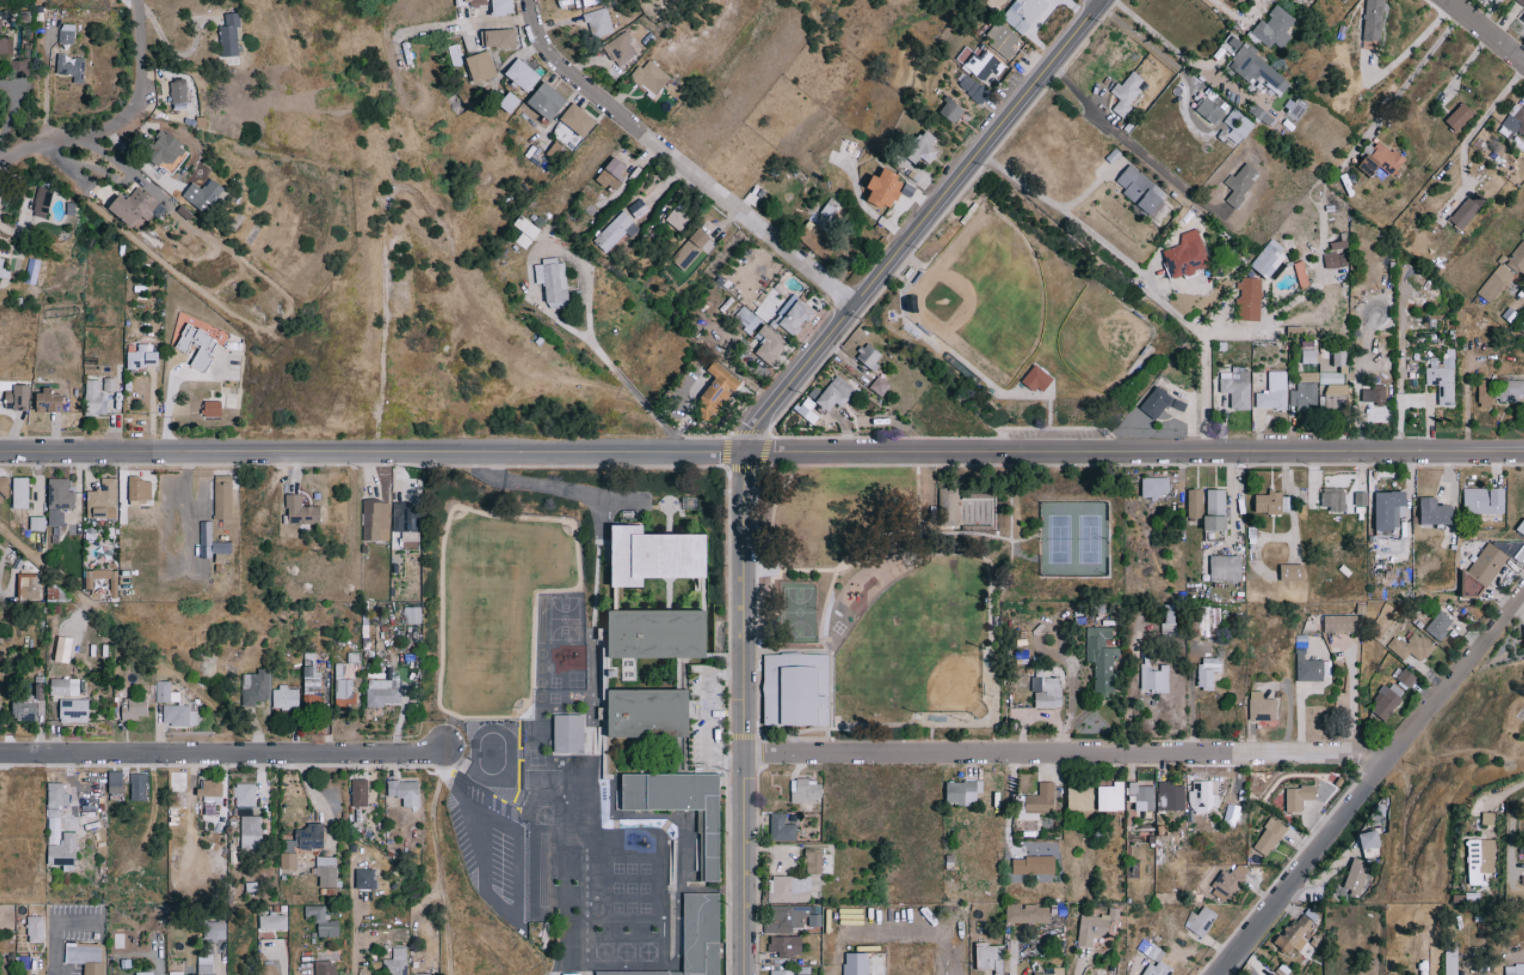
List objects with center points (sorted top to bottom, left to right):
building: (1346, 0)
building: (470, 2)
building: (592, 2)
road: (1102, 2)
building: (1520, 2)
building: (501, 7)
road: (1222, 7)
road: (134, 8)
building: (1024, 13)
building: (1523, 19)
building: (1373, 20)
building: (598, 22)
building: (1274, 27)
road: (1487, 30)
building: (72, 33)
building: (229, 35)
building: (497, 37)
building: (1002, 39)
building: (7, 41)
road: (1165, 43)
road: (1409, 45)
building: (621, 49)
road: (1155, 52)
building: (983, 64)
road: (1466, 64)
building: (480, 66)
building: (76, 67)
building: (1259, 71)
building: (523, 75)
building: (650, 77)
road: (1409, 79)
building: (972, 87)
building: (182, 91)
building: (1127, 91)
building: (547, 101)
building: (510, 102)
building: (1212, 108)
road: (16, 109)
building: (951, 111)
building: (1260, 114)
building: (1460, 116)
building: (578, 120)
road: (1480, 121)
building: (1512, 123)
road: (122, 126)
building: (1237, 126)
road: (1130, 145)
building: (923, 148)
building: (169, 149)
building: (555, 150)
building: (1382, 160)
road: (682, 163)
building: (613, 173)
building: (1241, 183)
building: (885, 189)
building: (1142, 190)
building: (204, 194)
road: (1047, 200)
building: (42, 201)
building: (136, 206)
building: (1469, 210)
building: (677, 219)
road: (930, 225)
building: (616, 231)
building: (819, 231)
building: (1340, 242)
building: (690, 249)
building: (1187, 255)
building: (1517, 258)
building: (1268, 259)
building: (1334, 260)
building: (3, 270)
building: (32, 270)
building: (1301, 275)
building: (553, 282)
building: (1495, 283)
park: (982, 296)
building: (1249, 299)
road: (549, 312)
building: (793, 315)
building: (744, 316)
building: (1521, 322)
building: (1295, 331)
road: (1235, 332)
park: (1104, 338)
building: (770, 344)
building: (198, 345)
road: (1206, 354)
building: (869, 356)
building: (1309, 356)
building: (143, 357)
building: (1339, 357)
building: (1308, 376)
building: (1443, 376)
building: (1331, 377)
building: (1037, 379)
building: (109, 384)
building: (6, 385)
building: (880, 386)
building: (1236, 386)
road: (1400, 386)
building: (682, 389)
building: (717, 390)
building: (1511, 390)
building: (1273, 392)
building: (1485, 393)
building: (835, 394)
building: (1374, 394)
building: (1334, 396)
building: (18, 397)
building: (1304, 397)
building: (94, 399)
building: (49, 401)
building: (1161, 403)
building: (213, 409)
building: (808, 411)
parking lot: (1059, 436)
road: (375, 452)
road: (1137, 452)
park: (963, 486)
building: (1155, 487)
building: (3, 489)
building: (139, 490)
building: (20, 492)
building: (222, 497)
building: (1334, 498)
building: (1361, 499)
building: (59, 500)
building: (102, 500)
building: (1484, 500)
building: (1273, 503)
building: (642, 504)
building: (1195, 504)
building: (947, 506)
building: (1388, 508)
building: (961, 510)
building: (1217, 510)
building: (301, 511)
building: (1436, 512)
building: (376, 520)
building: (407, 522)
building: (37, 523)
park: (1076, 538)
building: (205, 539)
building: (1388, 543)
building: (220, 547)
building: (654, 548)
building: (1494, 558)
building: (1225, 568)
building: (1290, 572)
building: (87, 584)
building: (1473, 585)
building: (28, 586)
building: (654, 591)
park: (801, 611)
building: (412, 615)
building: (1169, 620)
building: (1341, 623)
building: (1439, 625)
building: (654, 639)
building: (1411, 647)
building: (1101, 659)
park: (935, 665)
building: (1308, 669)
building: (1208, 672)
building: (1153, 677)
building: (1406, 678)
building: (344, 685)
building: (64, 686)
building: (255, 686)
building: (312, 686)
building: (798, 690)
building: (162, 691)
building: (381, 693)
building: (1046, 693)
building: (174, 696)
building: (285, 698)
building: (1387, 700)
building: (1262, 707)
building: (134, 709)
building: (25, 711)
building: (74, 711)
road: (748, 713)
building: (179, 715)
road: (706, 716)
building: (647, 717)
building: (569, 734)
road: (1070, 750)
road: (226, 751)
building: (584, 770)
road: (447, 775)
building: (115, 781)
road: (1369, 781)
building: (139, 785)
building: (211, 787)
building: (806, 789)
road: (1510, 789)
building: (405, 791)
building: (963, 791)
building: (359, 792)
building: (57, 794)
building: (244, 794)
building: (1171, 795)
building: (1112, 796)
building: (1298, 796)
building: (1080, 797)
building: (1042, 798)
road: (314, 799)
road: (1009, 801)
building: (678, 809)
building: (1230, 814)
building: (1488, 817)
building: (782, 827)
building: (250, 831)
building: (1269, 836)
building: (306, 838)
building: (1370, 839)
building: (60, 842)
building: (1480, 859)
building: (288, 860)
building: (814, 862)
building: (1034, 864)
building: (327, 870)
building: (532, 877)
building: (1356, 877)
building: (365, 878)
building: (1230, 879)
building: (788, 889)
road: (515, 912)
building: (568, 912)
building: (1027, 913)
road: (353, 915)
building: (790, 917)
building: (272, 921)
building: (323, 921)
building: (1200, 921)
road: (55, 926)
building: (1095, 926)
building: (36, 928)
building: (215, 929)
building: (1297, 930)
building: (630, 935)
building: (700, 935)
building: (786, 945)
building: (86, 956)
building: (990, 956)
road: (281, 961)
road: (1013, 961)
building: (1451, 961)
building: (395, 962)
building: (910, 962)
building: (205, 963)
building: (856, 963)
building: (879, 963)
road: (1078, 966)
road: (35, 968)
building: (325, 968)
building: (1158, 969)
building: (1515, 969)
building: (1054, 971)
building: (178, 972)
building: (780, 972)
building: (144, 973)
building: (419, 974)
road: (1134, 974)
building: (1272, 974)
building: (1482, 974)

